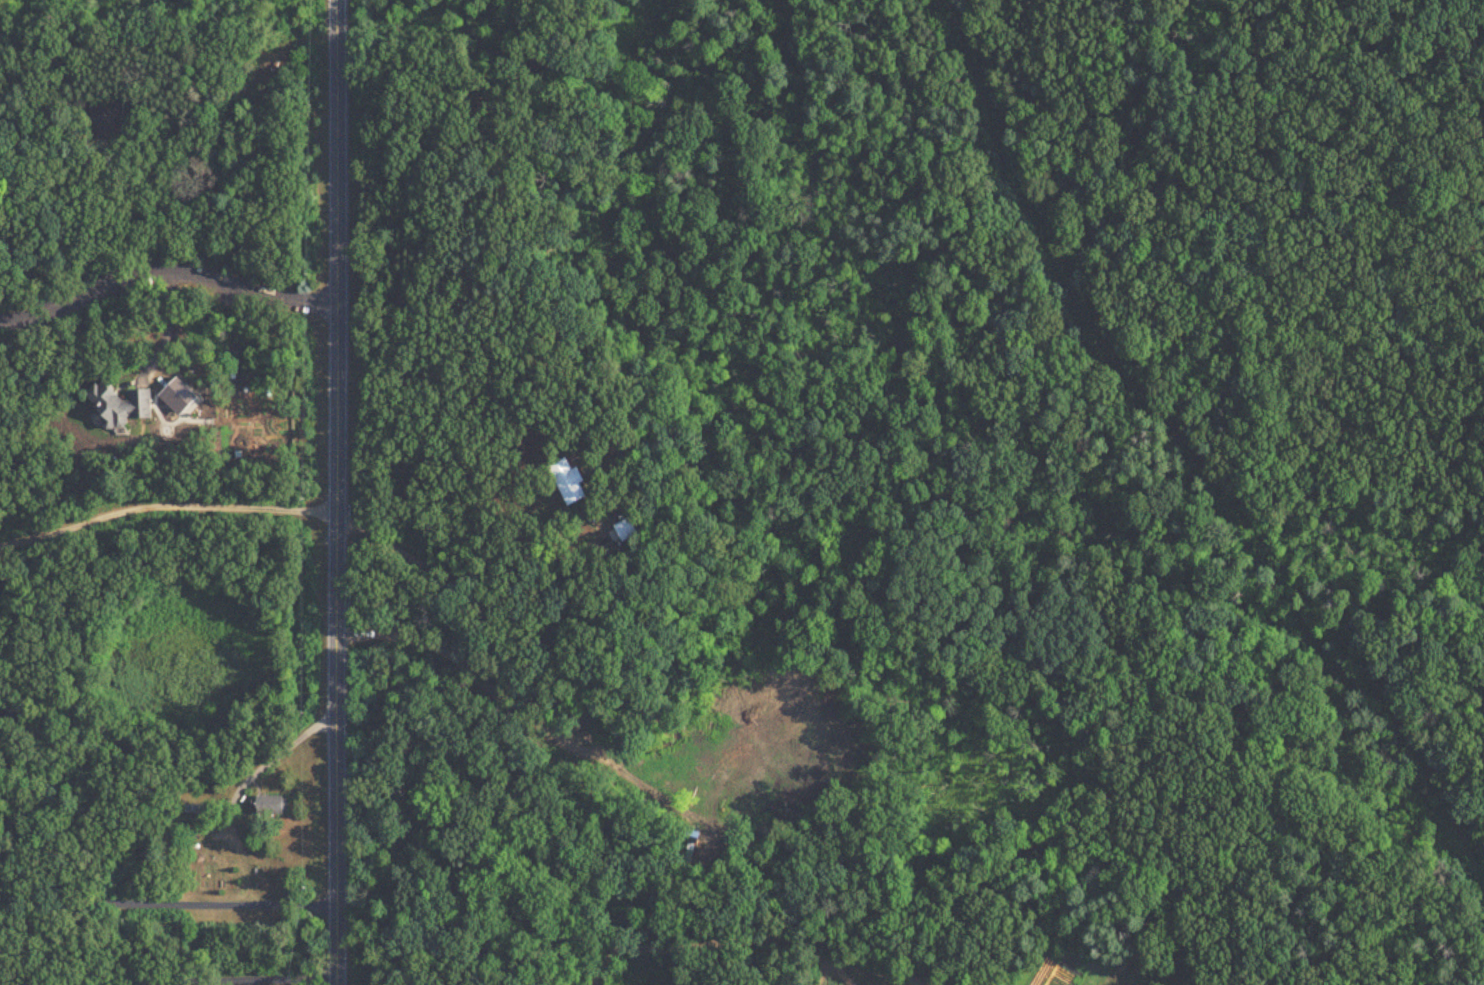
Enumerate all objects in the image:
building: (111, 121)
road: (168, 242)
road: (165, 268)
road: (28, 271)
building: (123, 406)
building: (572, 482)
road: (336, 492)
road: (165, 505)
road: (473, 573)
road: (287, 744)
building: (275, 805)
road: (166, 904)
road: (694, 948)
road: (835, 965)
road: (815, 966)
road: (212, 979)

